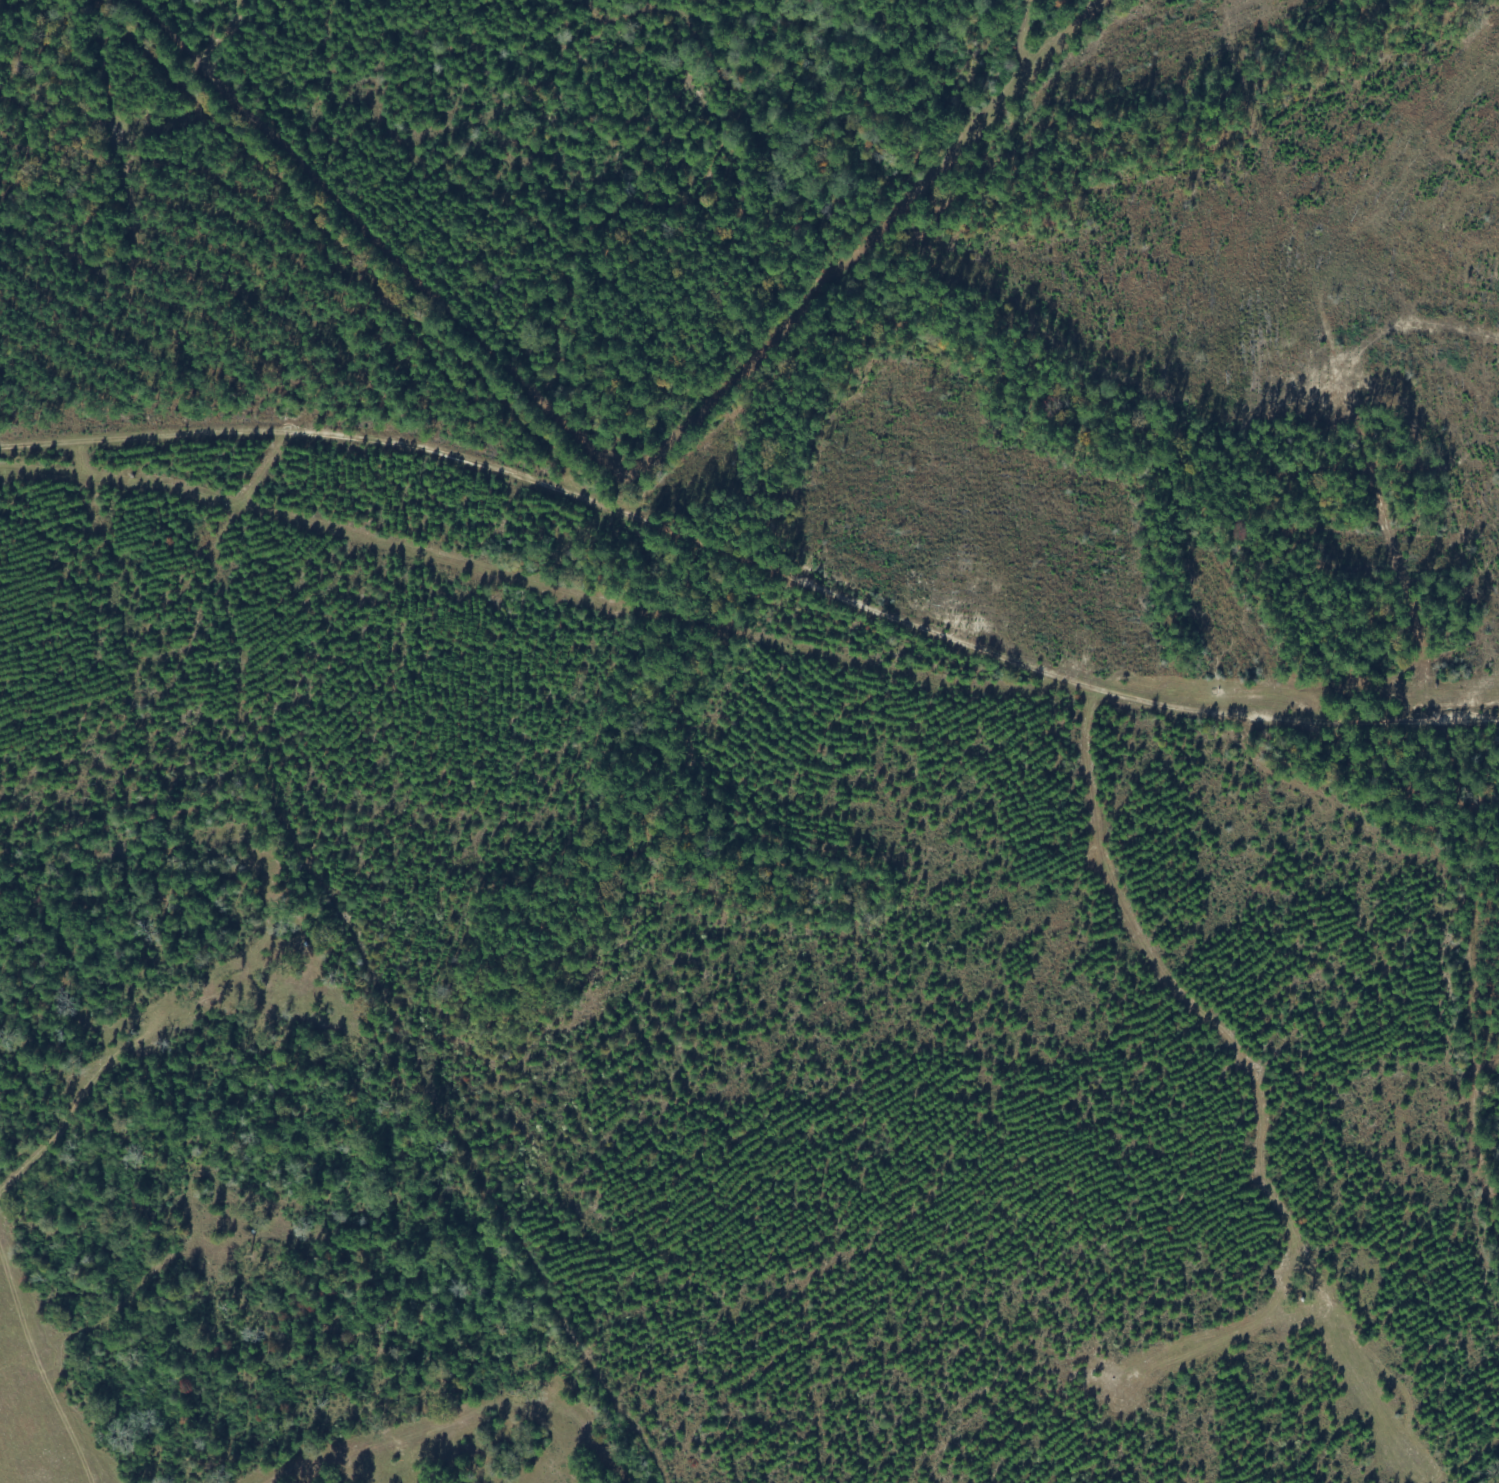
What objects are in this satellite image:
road: (753, 548)

